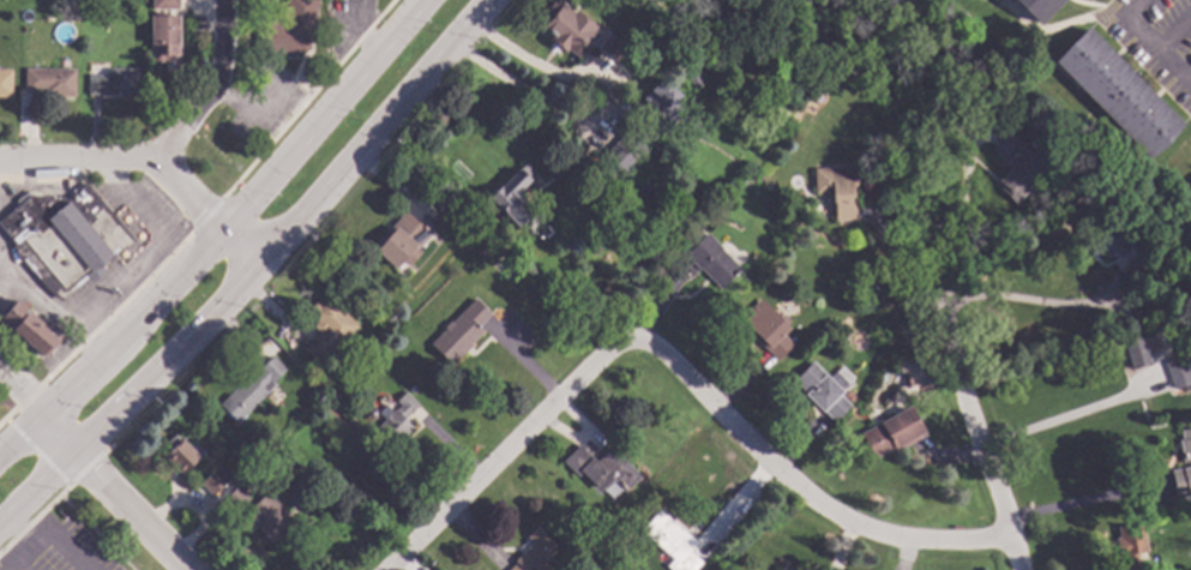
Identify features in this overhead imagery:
building: (163, 4)
building: (1037, 7)
building: (706, 19)
building: (288, 28)
building: (565, 28)
building: (163, 35)
road: (1144, 43)
building: (614, 48)
building: (693, 78)
building: (49, 80)
building: (5, 82)
building: (113, 83)
road: (209, 90)
road: (1185, 90)
building: (1118, 92)
building: (663, 100)
road: (600, 118)
building: (625, 152)
road: (149, 161)
building: (1019, 164)
building: (836, 188)
building: (511, 193)
road: (218, 226)
building: (458, 227)
building: (62, 238)
building: (401, 239)
building: (1107, 242)
building: (481, 253)
building: (708, 260)
building: (1132, 266)
road: (252, 268)
road: (4, 272)
road: (122, 274)
road: (1024, 301)
building: (495, 307)
building: (30, 328)
building: (325, 328)
building: (766, 329)
building: (459, 331)
building: (1145, 360)
road: (679, 367)
building: (1177, 373)
building: (908, 380)
building: (251, 389)
building: (824, 389)
road: (18, 390)
building: (848, 396)
road: (969, 400)
building: (368, 413)
road: (1065, 421)
building: (393, 422)
building: (891, 433)
building: (1185, 446)
building: (179, 454)
building: (600, 467)
building: (213, 480)
building: (243, 486)
road: (112, 491)
building: (235, 498)
road: (1083, 504)
building: (265, 516)
building: (956, 527)
building: (670, 541)
road: (32, 542)
road: (62, 542)
building: (1130, 546)
parking lot: (60, 550)
building: (533, 552)
building: (778, 569)

